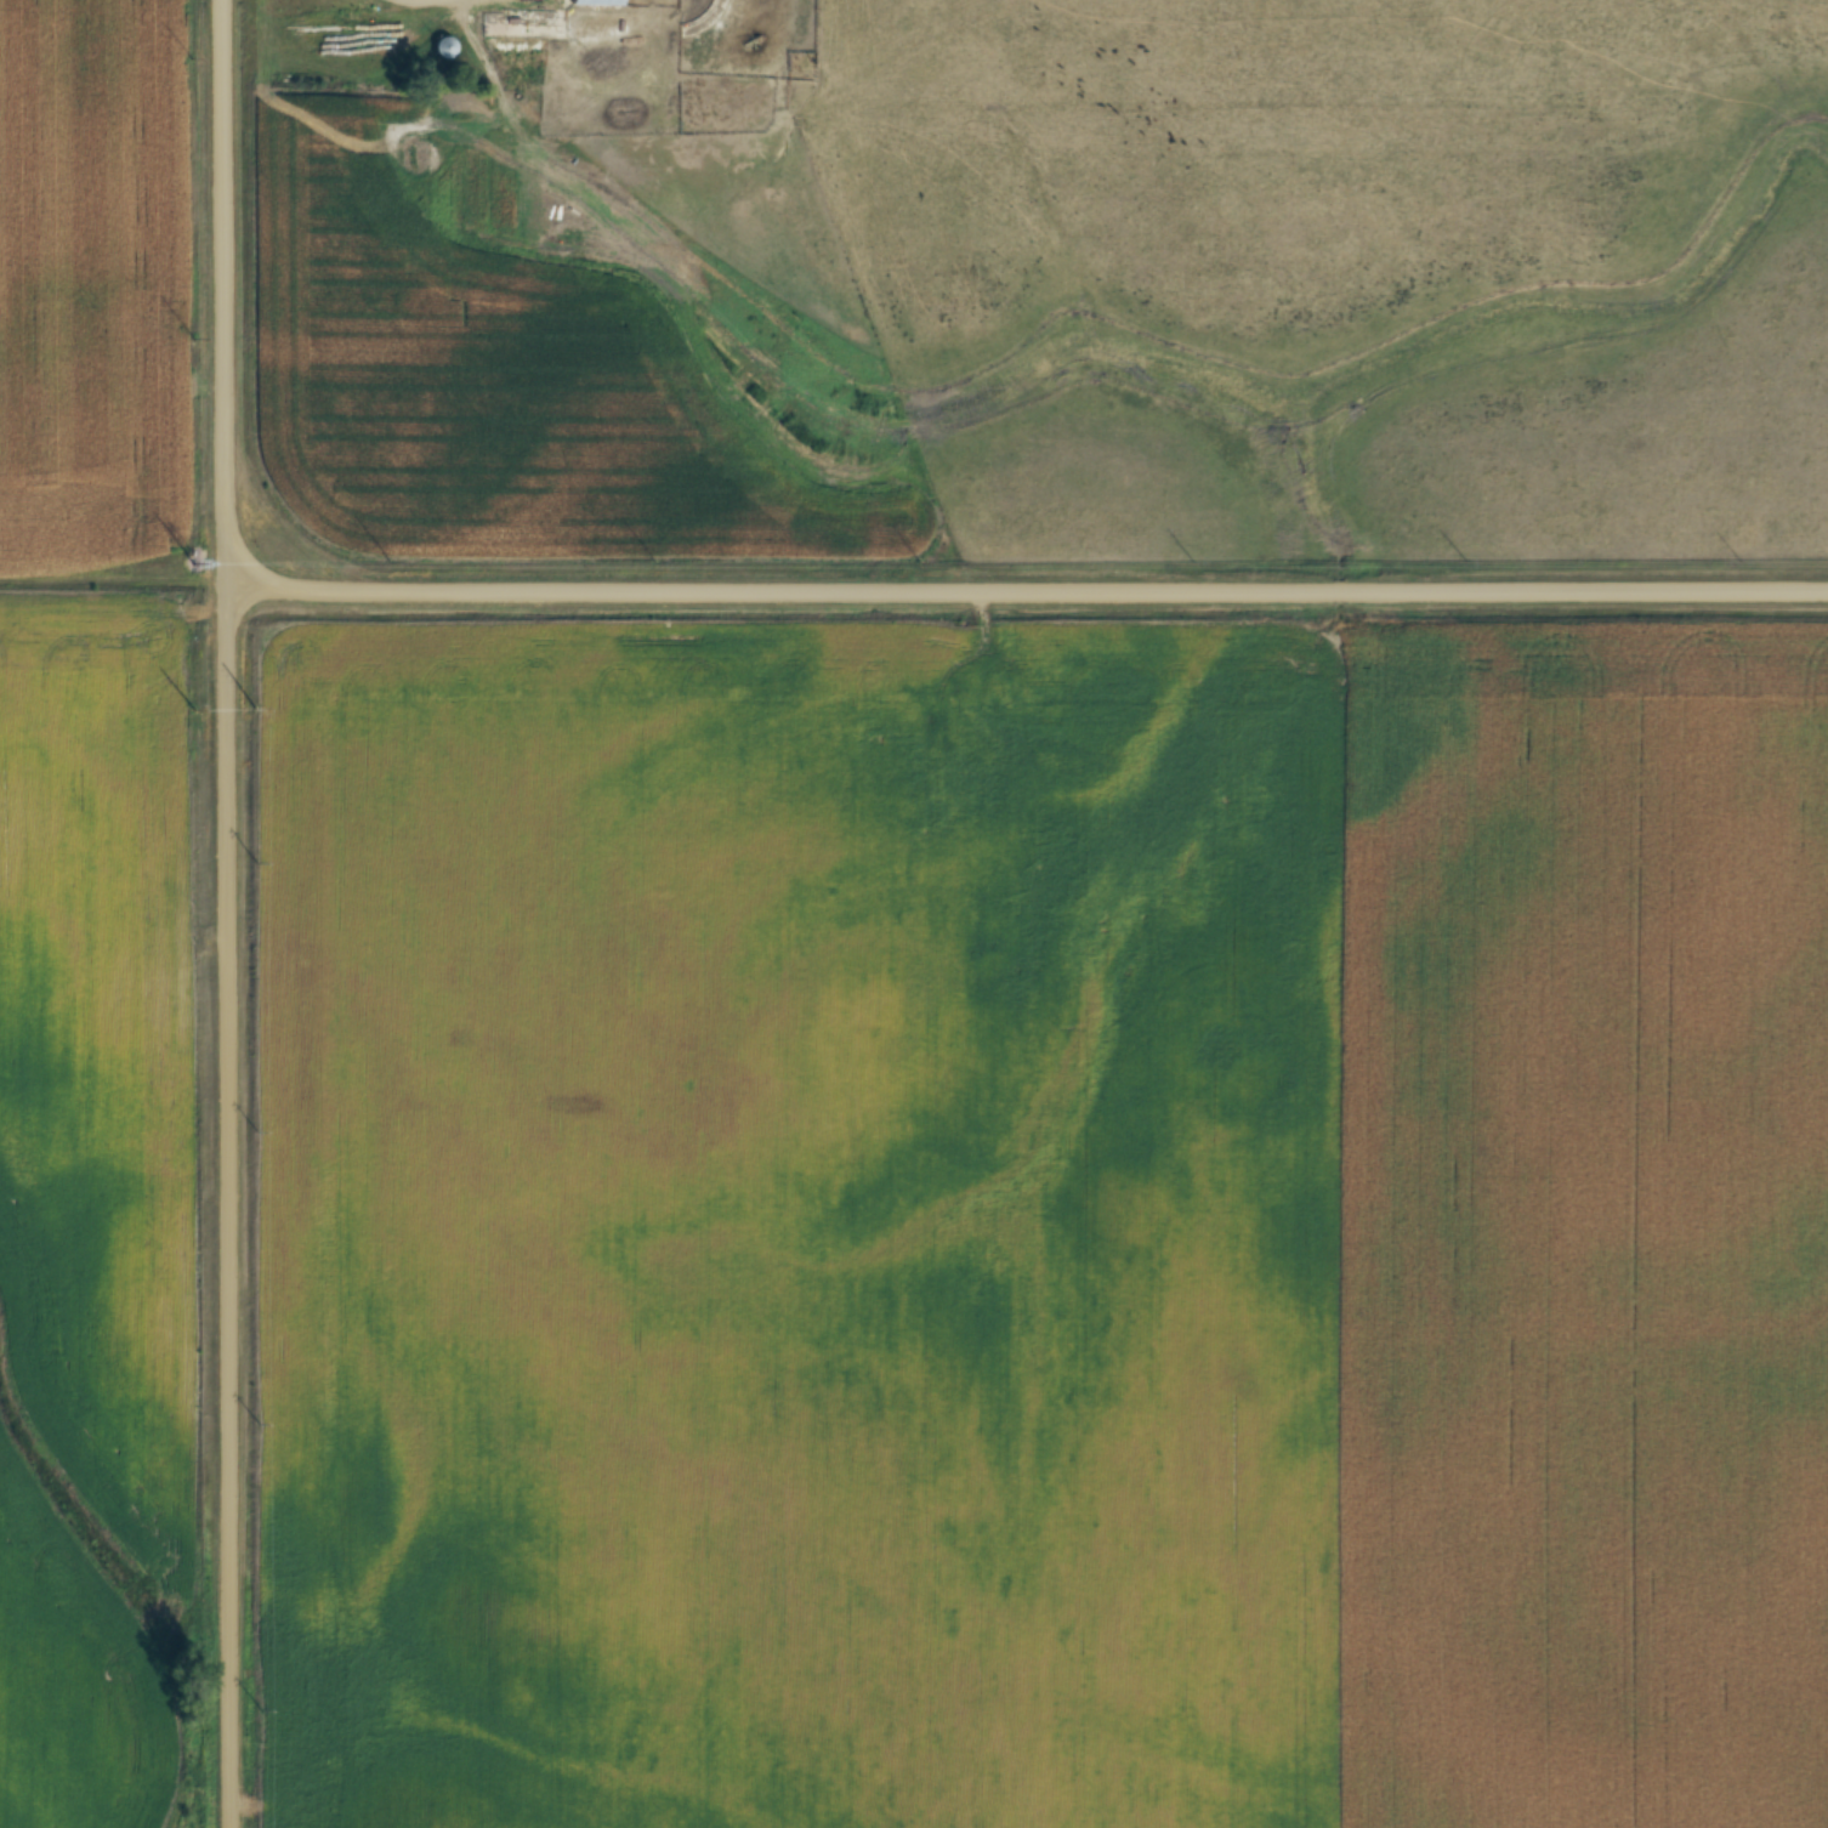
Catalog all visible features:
building: (595, 1)
building: (445, 45)
power tower: (192, 562)
road: (1027, 591)
power tower: (193, 706)
power tower: (246, 706)
road: (228, 913)

